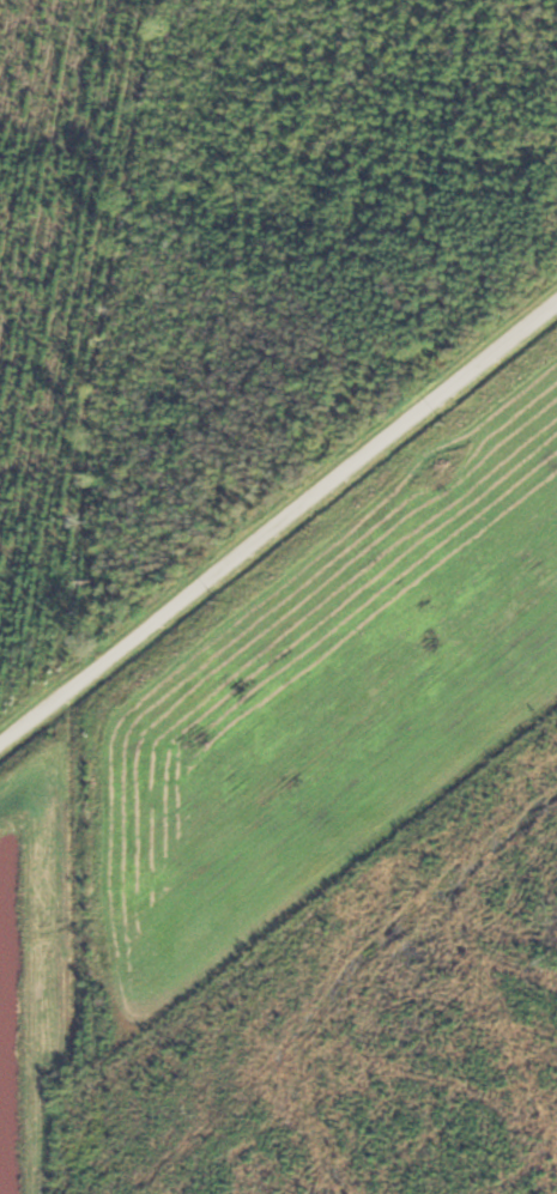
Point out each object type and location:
road: (278, 516)

